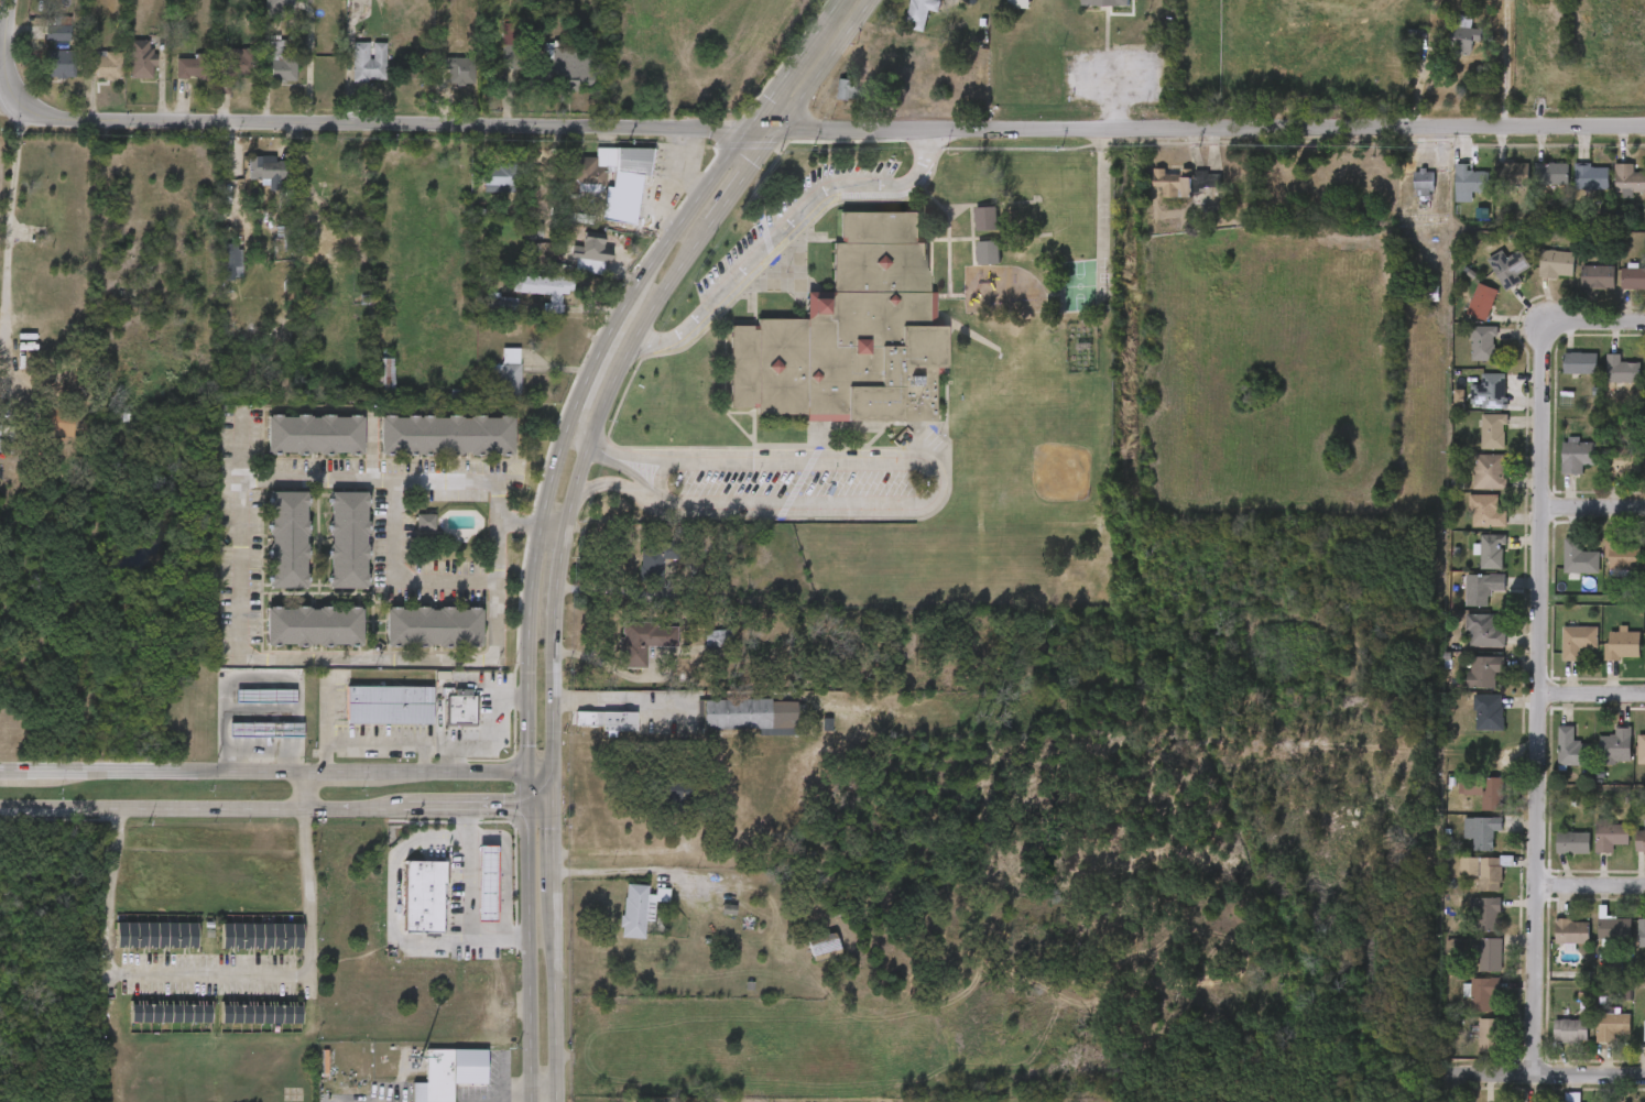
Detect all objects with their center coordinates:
building: (1103, 3)
building: (280, 4)
building: (1017, 4)
building: (1000, 11)
building: (260, 13)
building: (919, 13)
building: (904, 21)
building: (58, 29)
building: (1463, 36)
building: (41, 44)
building: (512, 47)
building: (1445, 52)
building: (141, 59)
building: (490, 61)
building: (279, 62)
building: (369, 62)
building: (574, 63)
building: (62, 64)
building: (105, 65)
road: (799, 65)
building: (232, 66)
road: (826, 66)
building: (192, 68)
building: (459, 70)
building: (122, 74)
building: (349, 76)
building: (261, 77)
building: (43, 79)
building: (88, 79)
building: (171, 83)
building: (551, 83)
building: (440, 86)
building: (846, 90)
building: (828, 101)
road: (1116, 103)
road: (335, 123)
road: (1212, 128)
road: (766, 131)
road: (690, 152)
road: (729, 161)
building: (1553, 173)
building: (1512, 174)
building: (1592, 177)
building: (1628, 179)
building: (1174, 182)
building: (1425, 182)
building: (1469, 182)
building: (250, 185)
road: (739, 186)
building: (1495, 188)
road: (665, 189)
building: (1572, 192)
building: (1534, 193)
building: (596, 194)
building: (1641, 194)
building: (1165, 196)
building: (1611, 196)
building: (1404, 198)
building: (1450, 198)
road: (1101, 212)
road: (7, 222)
road: (784, 227)
building: (1000, 231)
building: (968, 233)
building: (1554, 262)
building: (970, 268)
building: (1004, 268)
building: (573, 269)
building: (1510, 271)
building: (215, 273)
building: (1598, 277)
building: (1633, 277)
building: (1537, 279)
building: (1490, 283)
building: (1643, 291)
building: (1579, 292)
building: (1417, 293)
building: (1619, 294)
building: (1481, 302)
building: (526, 304)
building: (482, 316)
building: (1463, 317)
building: (850, 334)
building: (1482, 343)
building: (1464, 358)
building: (1579, 363)
building: (1621, 371)
road: (599, 374)
building: (1561, 378)
building: (1637, 384)
building: (1603, 385)
building: (489, 386)
building: (366, 388)
building: (1492, 391)
building: (1474, 406)
building: (1439, 413)
building: (1493, 432)
building: (312, 434)
building: (445, 434)
building: (47, 437)
building: (1474, 446)
building: (1577, 456)
building: (1622, 460)
building: (1559, 470)
building: (1489, 471)
building: (1637, 474)
building: (1604, 476)
road: (612, 484)
building: (1470, 487)
road: (930, 490)
road: (575, 493)
road: (1592, 503)
building: (1485, 511)
road: (554, 521)
building: (1467, 526)
building: (407, 536)
building: (286, 538)
building: (346, 538)
building: (1491, 552)
building: (270, 554)
building: (330, 555)
building: (1622, 557)
building: (654, 558)
building: (1578, 558)
building: (1472, 566)
building: (1604, 569)
building: (1560, 572)
building: (635, 576)
road: (393, 578)
building: (1481, 588)
building: (1463, 603)
road: (529, 624)
building: (312, 625)
building: (431, 625)
building: (1482, 631)
building: (644, 640)
road: (239, 641)
building: (415, 641)
building: (1577, 641)
building: (1464, 645)
building: (1622, 645)
road: (1539, 651)
building: (627, 656)
building: (1559, 656)
building: (1636, 658)
building: (1604, 659)
building: (1483, 670)
building: (1466, 686)
building: (264, 695)
road: (730, 695)
road: (1592, 695)
building: (388, 702)
building: (459, 705)
building: (248, 710)
building: (1486, 712)
building: (737, 713)
building: (370, 719)
building: (606, 720)
building: (443, 722)
building: (1469, 727)
building: (264, 729)
building: (730, 730)
building: (587, 735)
road: (425, 738)
building: (248, 744)
building: (1615, 746)
road: (257, 749)
building: (1571, 749)
building: (1641, 749)
road: (446, 755)
road: (423, 756)
building: (1598, 761)
building: (1551, 763)
road: (276, 775)
building: (1486, 790)
road: (305, 792)
road: (554, 793)
building: (1466, 806)
road: (152, 808)
building: (657, 808)
road: (357, 809)
road: (469, 811)
road: (541, 812)
building: (1480, 831)
building: (1609, 837)
building: (1639, 841)
building: (1570, 842)
building: (1462, 845)
building: (1592, 851)
building: (1631, 856)
building: (1554, 858)
road: (554, 860)
road: (624, 871)
building: (1481, 871)
road: (1591, 885)
building: (1464, 886)
building: (468, 897)
building: (405, 910)
building: (636, 910)
building: (1485, 914)
road: (450, 915)
road: (380, 917)
building: (621, 923)
building: (1612, 928)
building: (1467, 929)
building: (1571, 931)
building: (1641, 932)
building: (155, 934)
building: (261, 935)
building: (1594, 942)
road: (542, 946)
building: (825, 946)
building: (1554, 946)
building: (138, 949)
building: (1628, 949)
building: (242, 950)
building: (1489, 956)
building: (1471, 969)
road: (208, 976)
building: (1482, 993)
road: (555, 1004)
building: (1462, 1008)
building: (170, 1010)
building: (261, 1012)
building: (151, 1027)
building: (1612, 1027)
building: (242, 1028)
building: (1641, 1029)
building: (1569, 1030)
building: (1489, 1036)
building: (1594, 1041)
building: (1551, 1045)
building: (1635, 1045)
building: (1469, 1049)
road: (1556, 1072)
road: (503, 1076)
building: (436, 1082)
road: (513, 1096)
road: (542, 1096)
building: (327, 1101)

